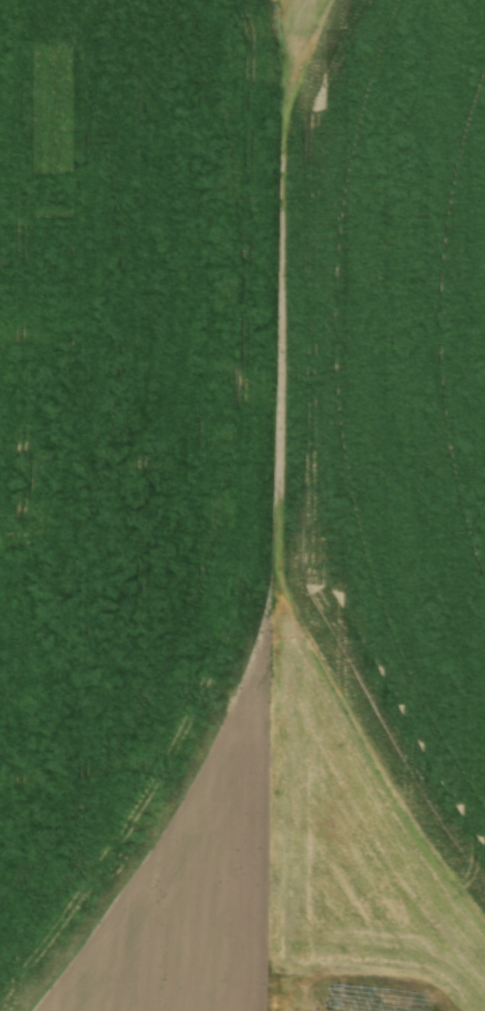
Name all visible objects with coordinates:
crop: (242, 505)

